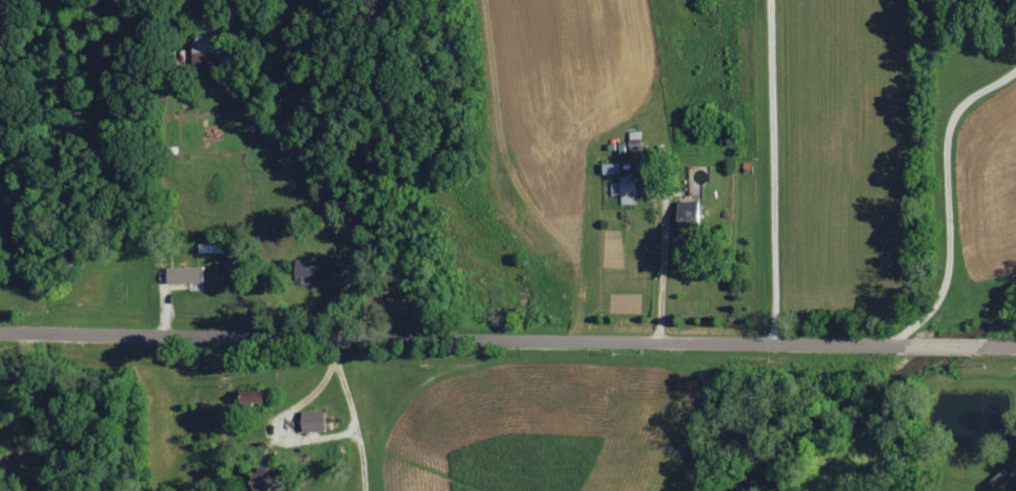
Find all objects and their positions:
building: (209, 48)
building: (613, 169)
building: (626, 190)
building: (330, 271)
building: (186, 276)
road: (507, 342)
road: (355, 414)
building: (315, 420)
building: (265, 481)

